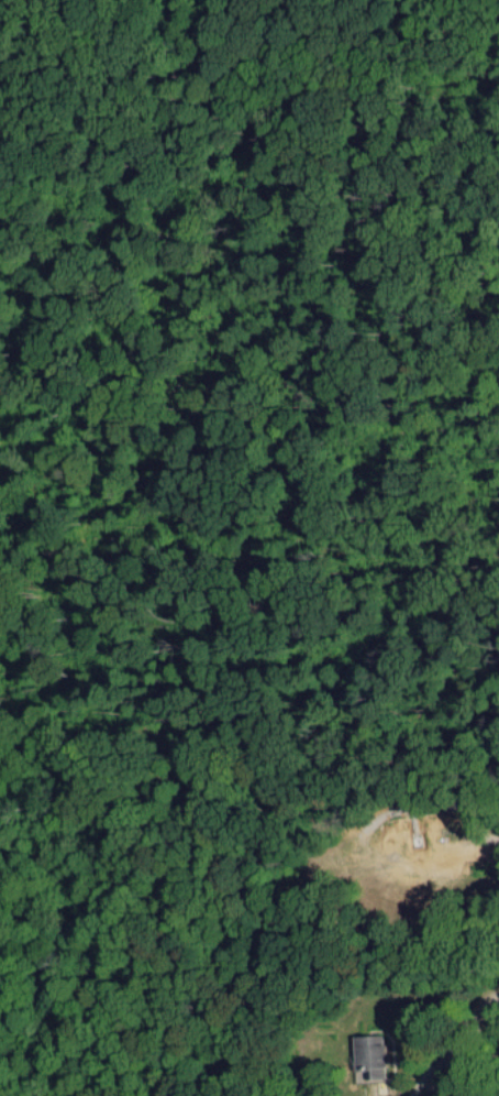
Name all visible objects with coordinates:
building: (365, 1054)

